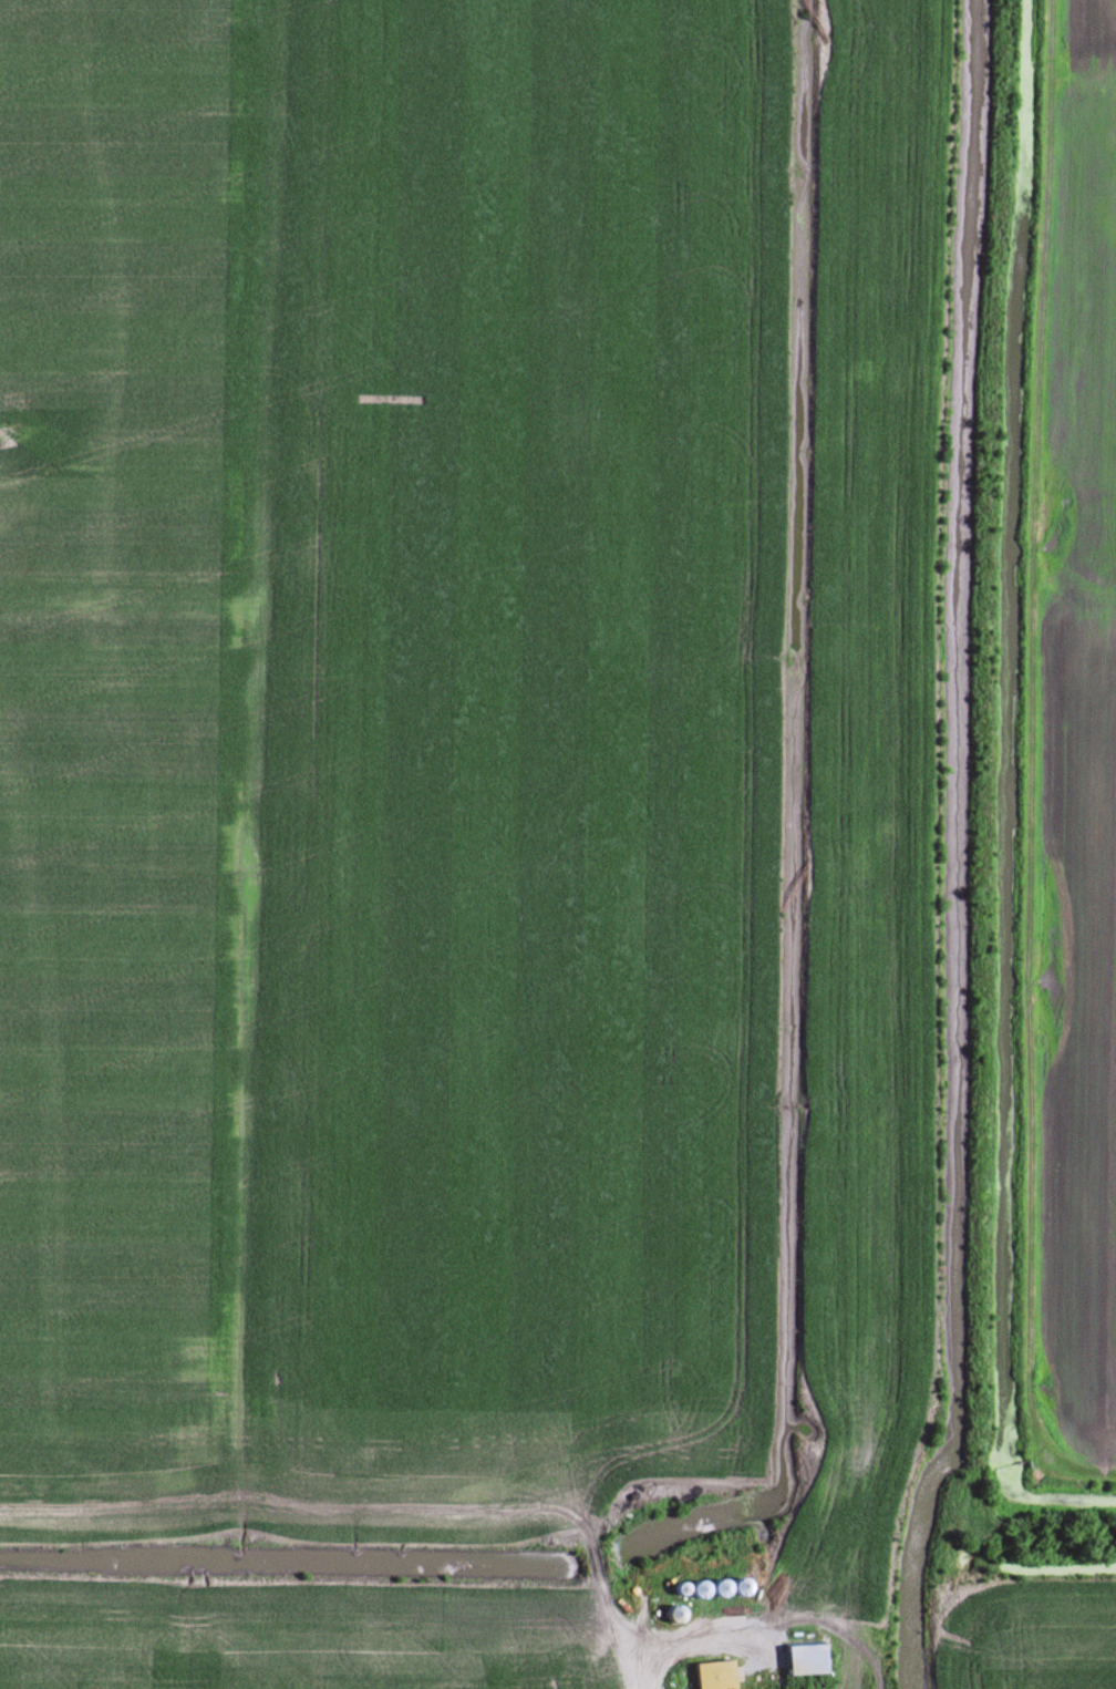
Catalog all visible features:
road: (763, 1633)
building: (800, 1657)
building: (709, 1673)

